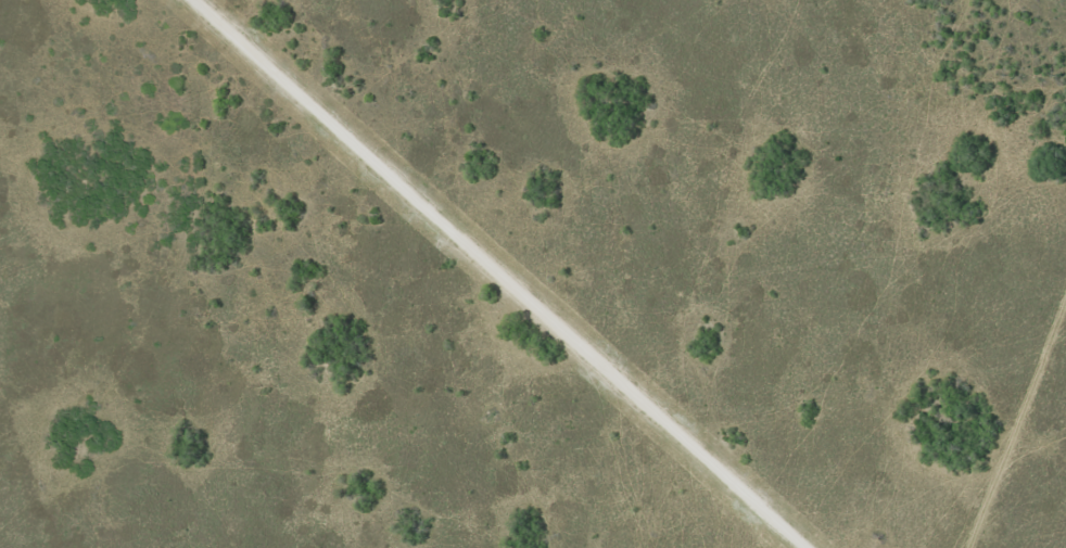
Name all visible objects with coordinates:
road: (500, 273)

